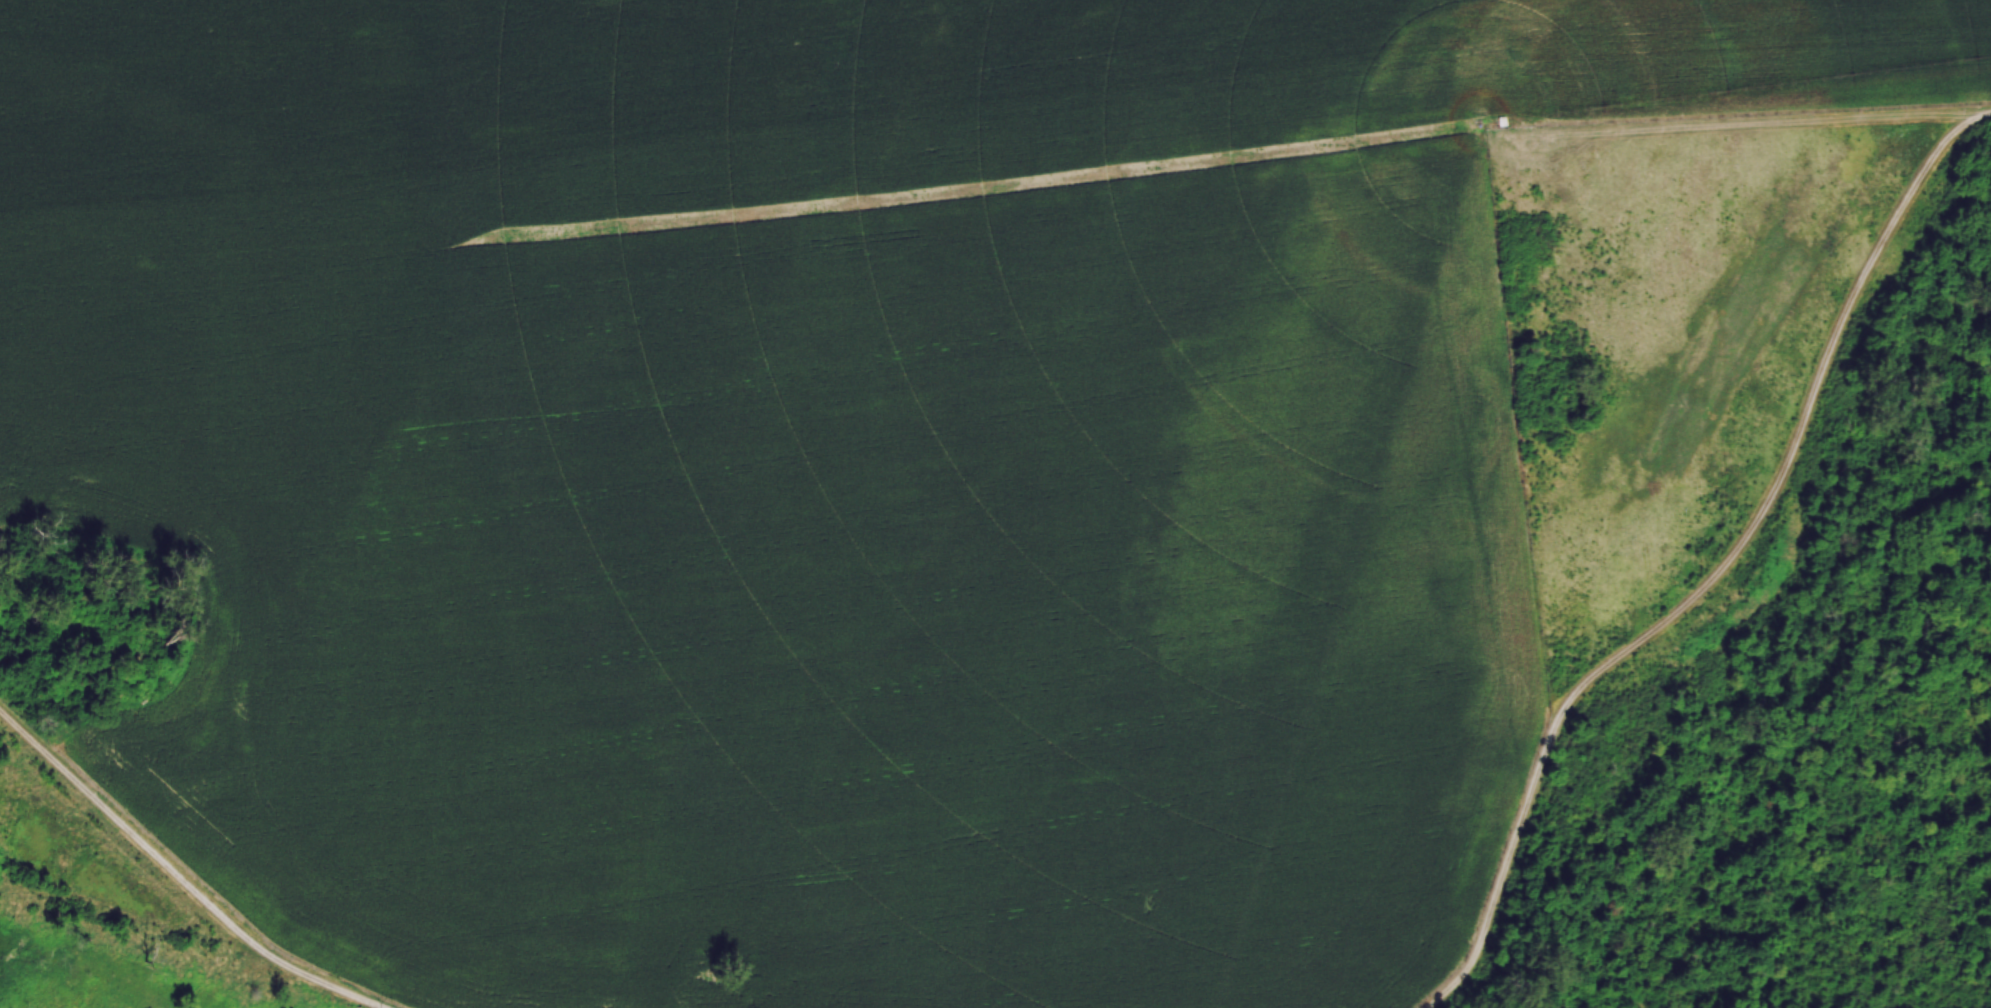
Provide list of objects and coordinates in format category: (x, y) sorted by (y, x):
crop: (827, 466)
road: (1719, 570)
road: (178, 879)

